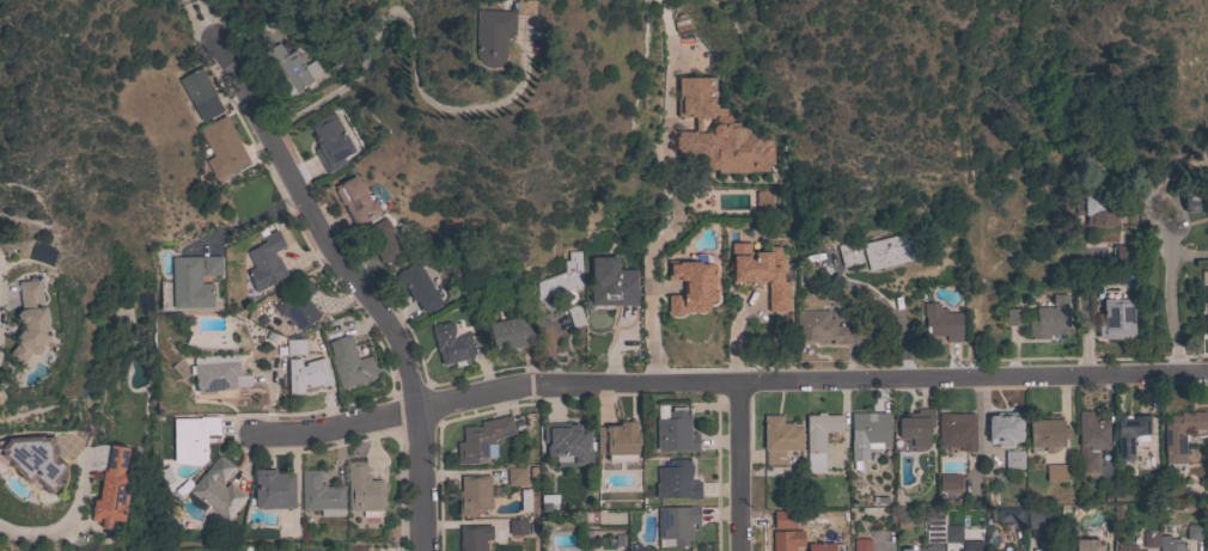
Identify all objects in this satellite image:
road: (200, 22)
building: (495, 32)
road: (404, 35)
building: (291, 68)
building: (1207, 74)
building: (201, 93)
building: (718, 133)
building: (330, 142)
building: (222, 147)
road: (1153, 194)
building: (355, 198)
building: (763, 200)
building: (1196, 200)
building: (1094, 208)
road: (677, 212)
building: (383, 240)
building: (878, 251)
building: (1123, 255)
building: (266, 262)
building: (763, 274)
building: (561, 276)
road: (0, 281)
building: (193, 281)
building: (611, 282)
road: (1169, 283)
building: (417, 286)
building: (691, 286)
road: (354, 289)
building: (1207, 296)
building: (298, 304)
road: (1081, 312)
road: (892, 314)
building: (575, 316)
building: (1014, 316)
building: (1115, 317)
building: (1048, 318)
building: (30, 322)
building: (941, 322)
road: (557, 323)
building: (1206, 325)
building: (819, 327)
building: (511, 332)
building: (450, 343)
building: (294, 347)
road: (549, 349)
road: (1177, 360)
building: (349, 362)
building: (219, 374)
building: (306, 374)
road: (727, 384)
building: (915, 427)
building: (1003, 428)
building: (956, 430)
building: (675, 431)
building: (868, 433)
building: (1047, 433)
building: (1129, 434)
building: (1180, 434)
building: (193, 437)
building: (818, 437)
building: (1091, 437)
building: (481, 439)
building: (779, 439)
building: (617, 441)
building: (567, 442)
building: (1013, 459)
building: (26, 465)
road: (738, 467)
building: (1054, 472)
building: (515, 476)
building: (676, 480)
building: (948, 482)
building: (111, 488)
building: (218, 489)
building: (273, 489)
building: (362, 490)
building: (474, 494)
building: (319, 495)
building: (524, 501)
building: (1204, 508)
road: (73, 515)
building: (1007, 515)
building: (777, 516)
building: (1035, 519)
building: (676, 525)
building: (517, 526)
building: (934, 528)
building: (1194, 532)
building: (953, 533)
building: (474, 537)
building: (1149, 538)
building: (781, 541)
building: (862, 544)
building: (1171, 544)
building: (818, 545)
building: (971, 545)
building: (1087, 545)
building: (1127, 547)
building: (356, 549)
building: (310, 550)
building: (905, 550)
building: (1039, 550)

